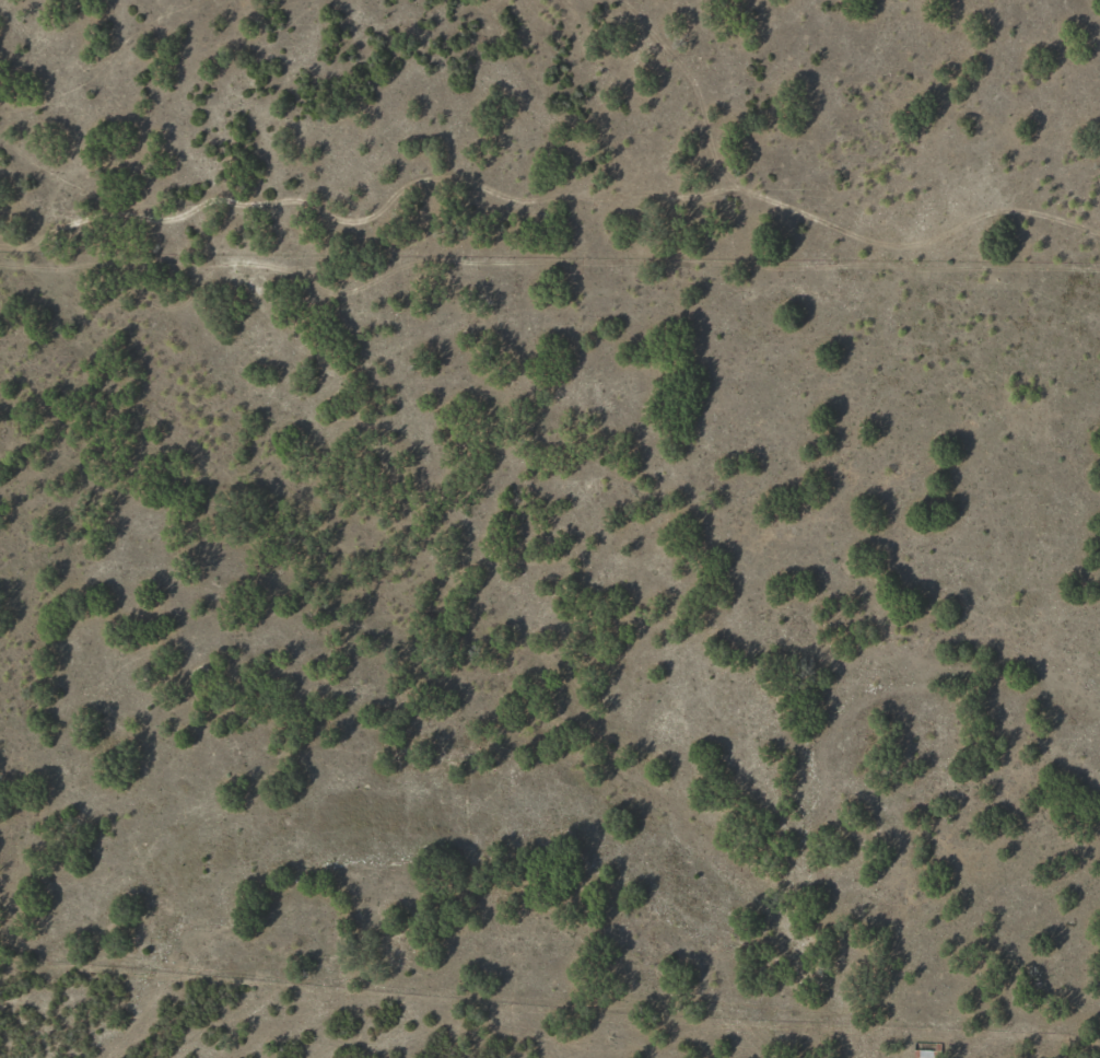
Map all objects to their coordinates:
road: (782, 300)
road: (230, 340)

